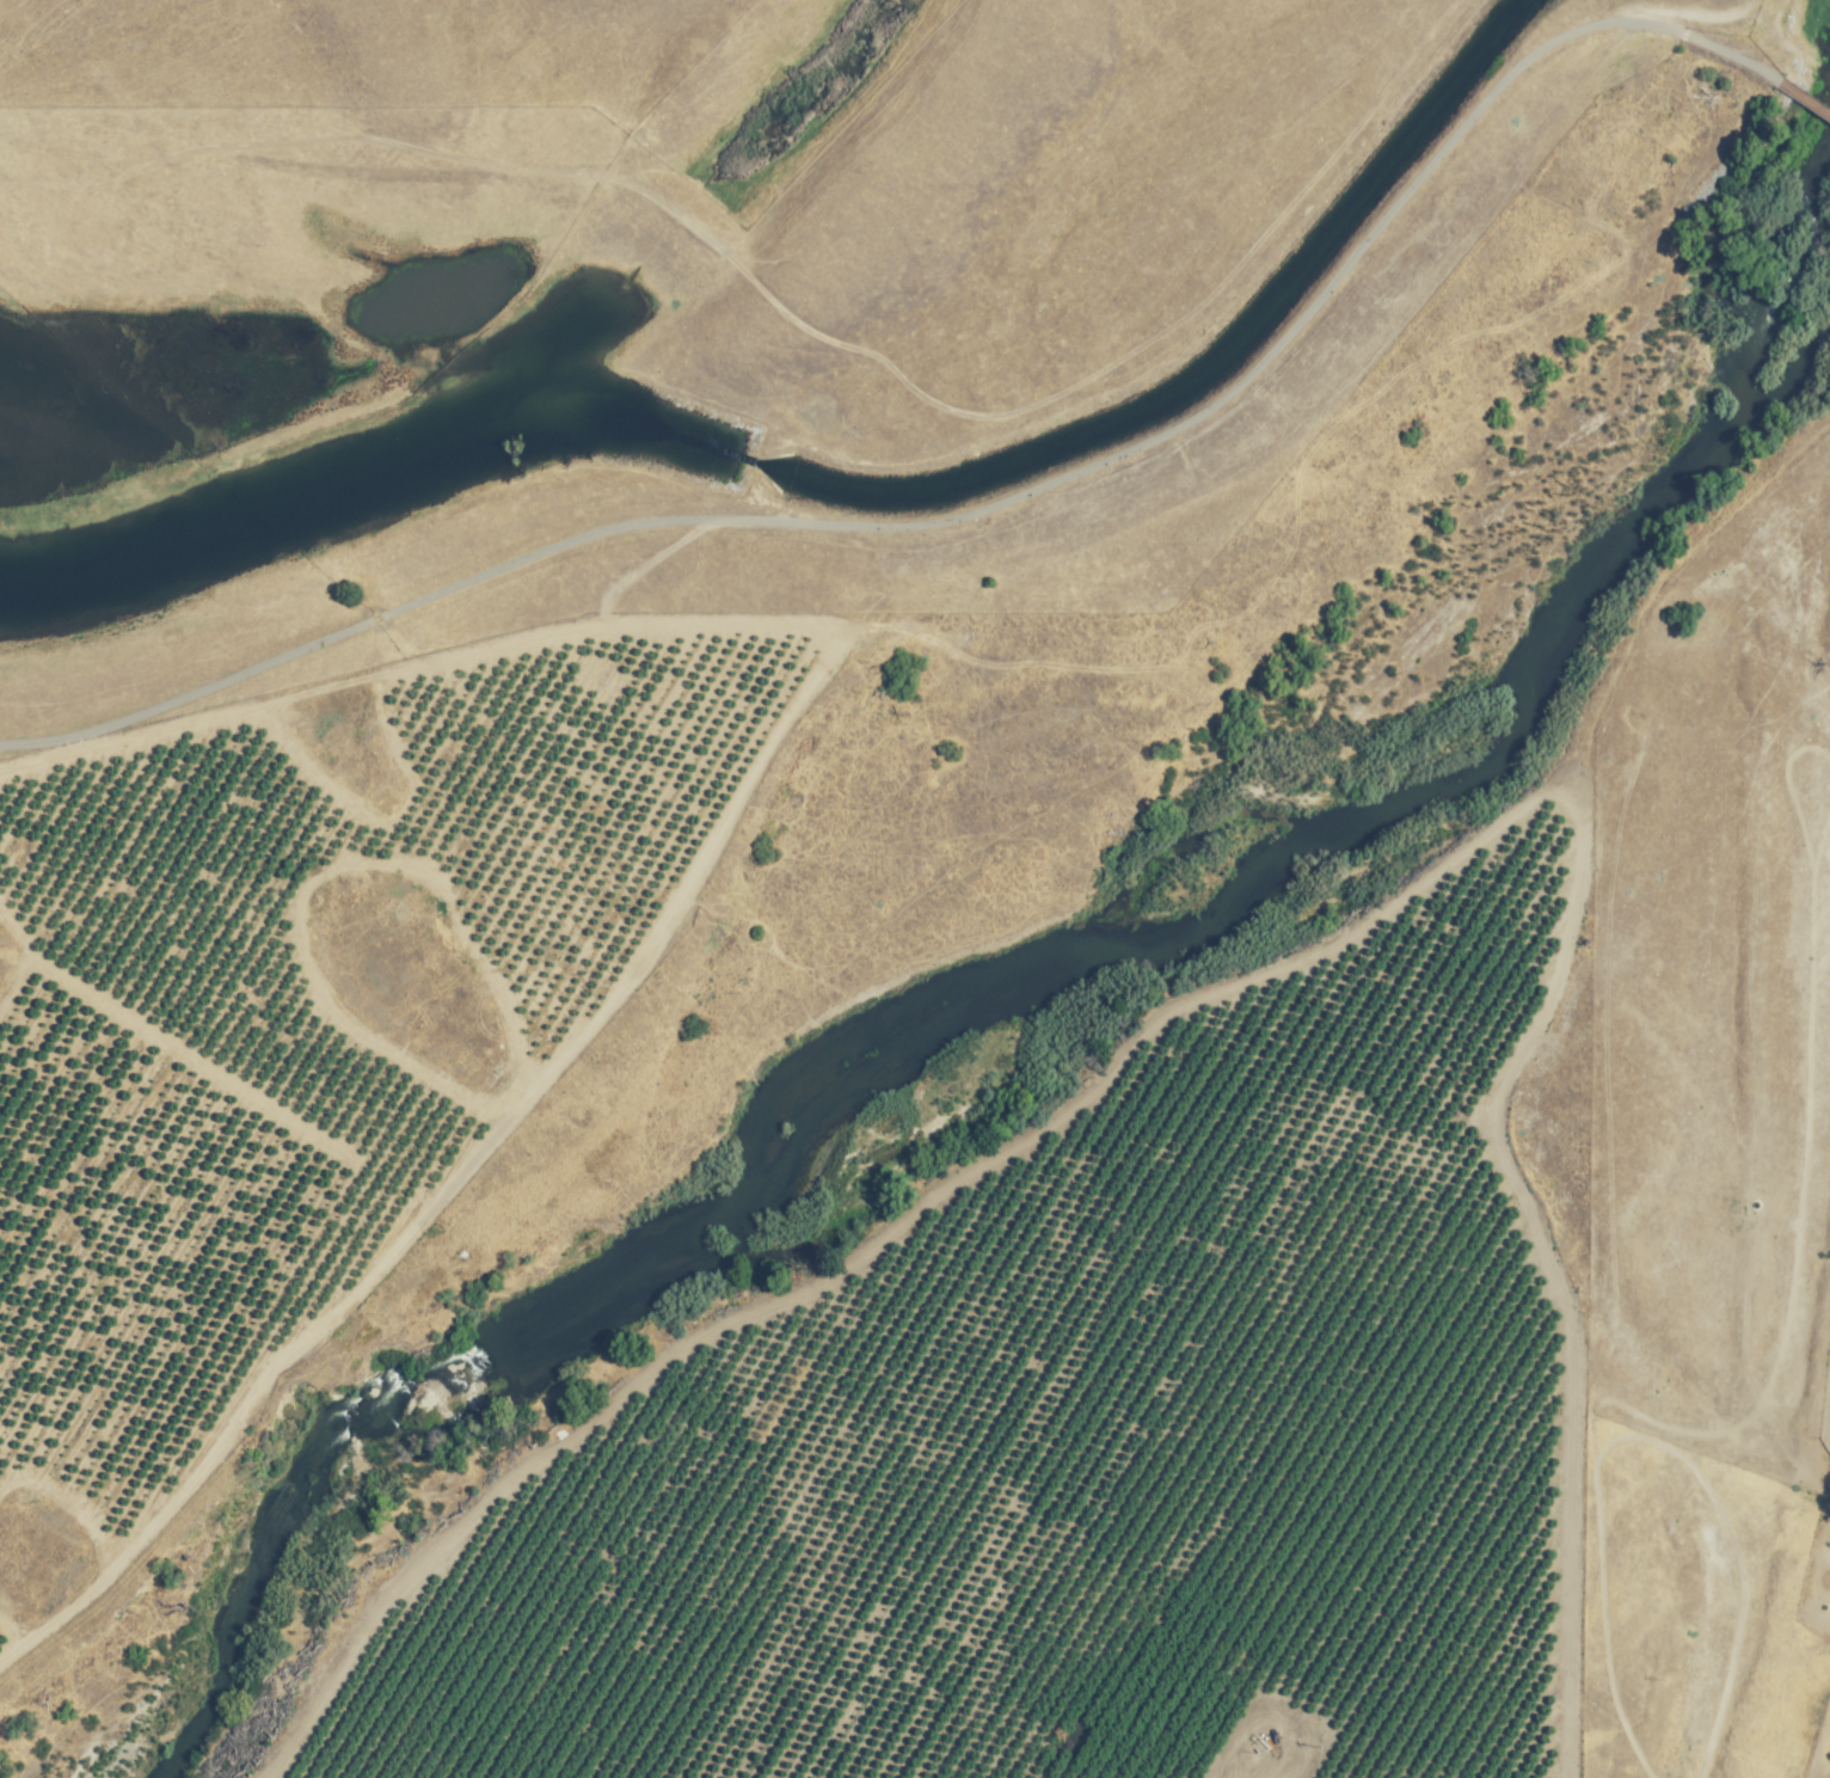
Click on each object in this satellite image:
road: (1705, 12)
road: (1743, 68)
road: (798, 320)
road: (907, 526)
river: (1024, 1014)

